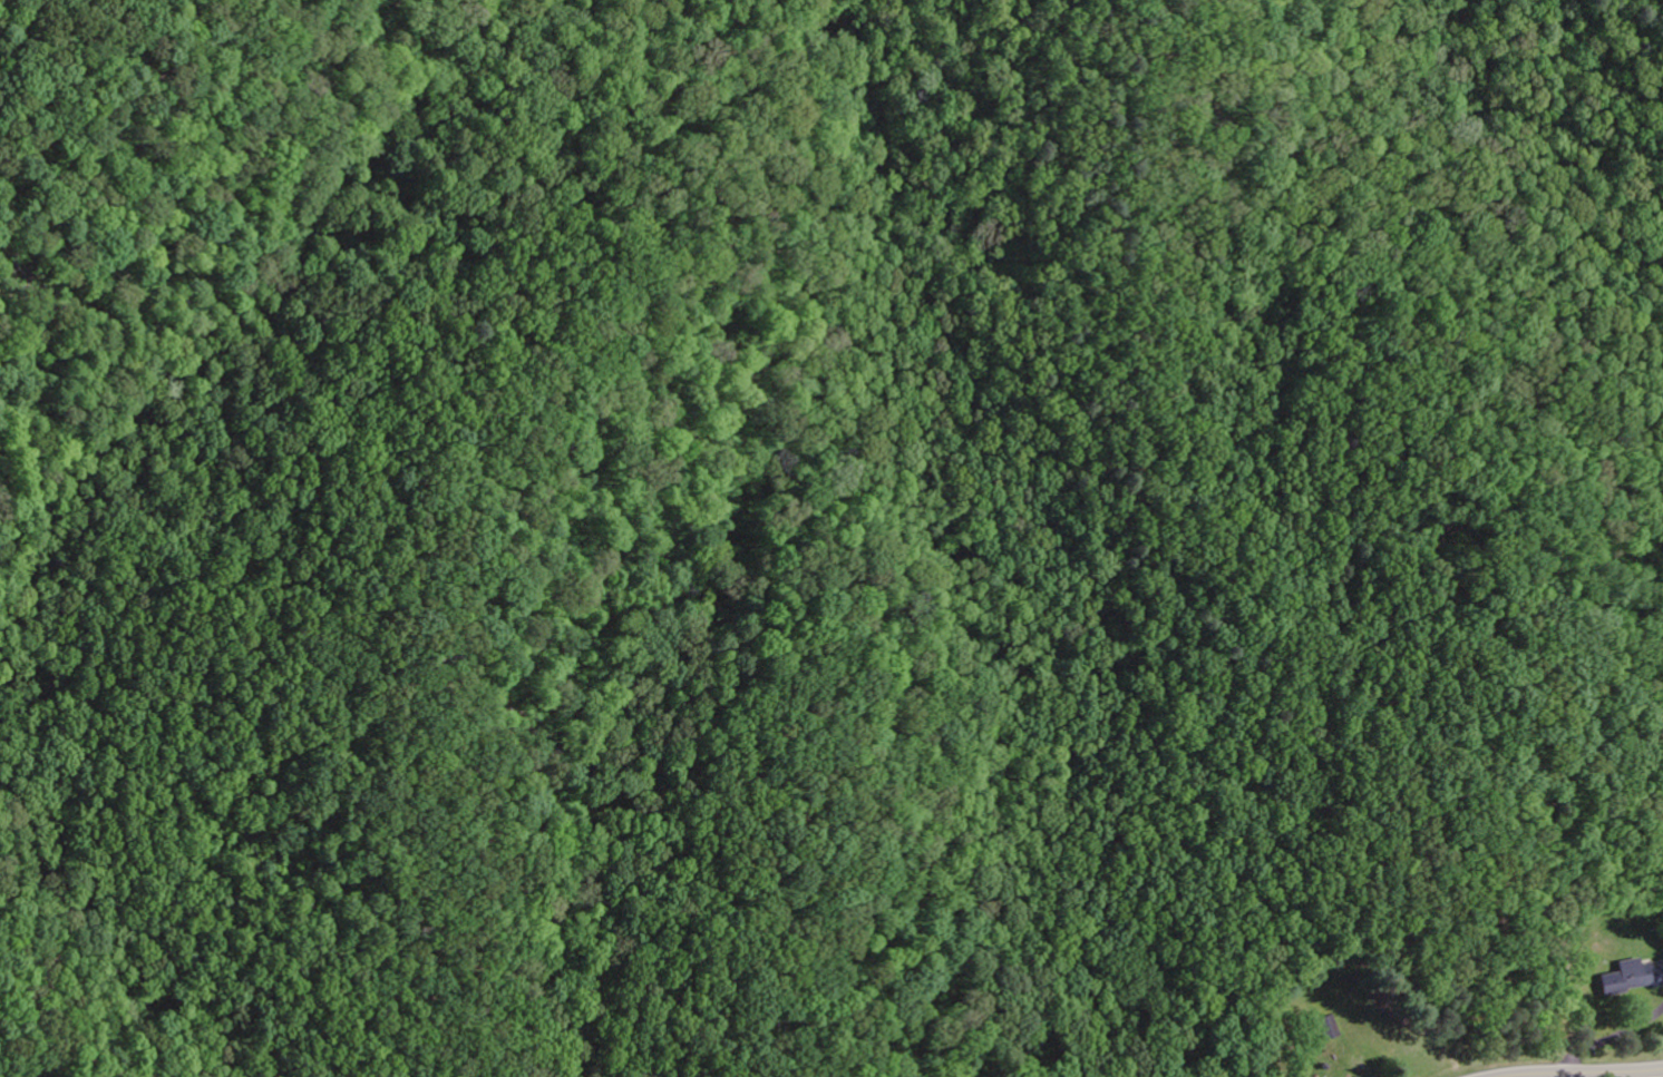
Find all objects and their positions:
building: (1632, 979)
road: (1581, 1073)

